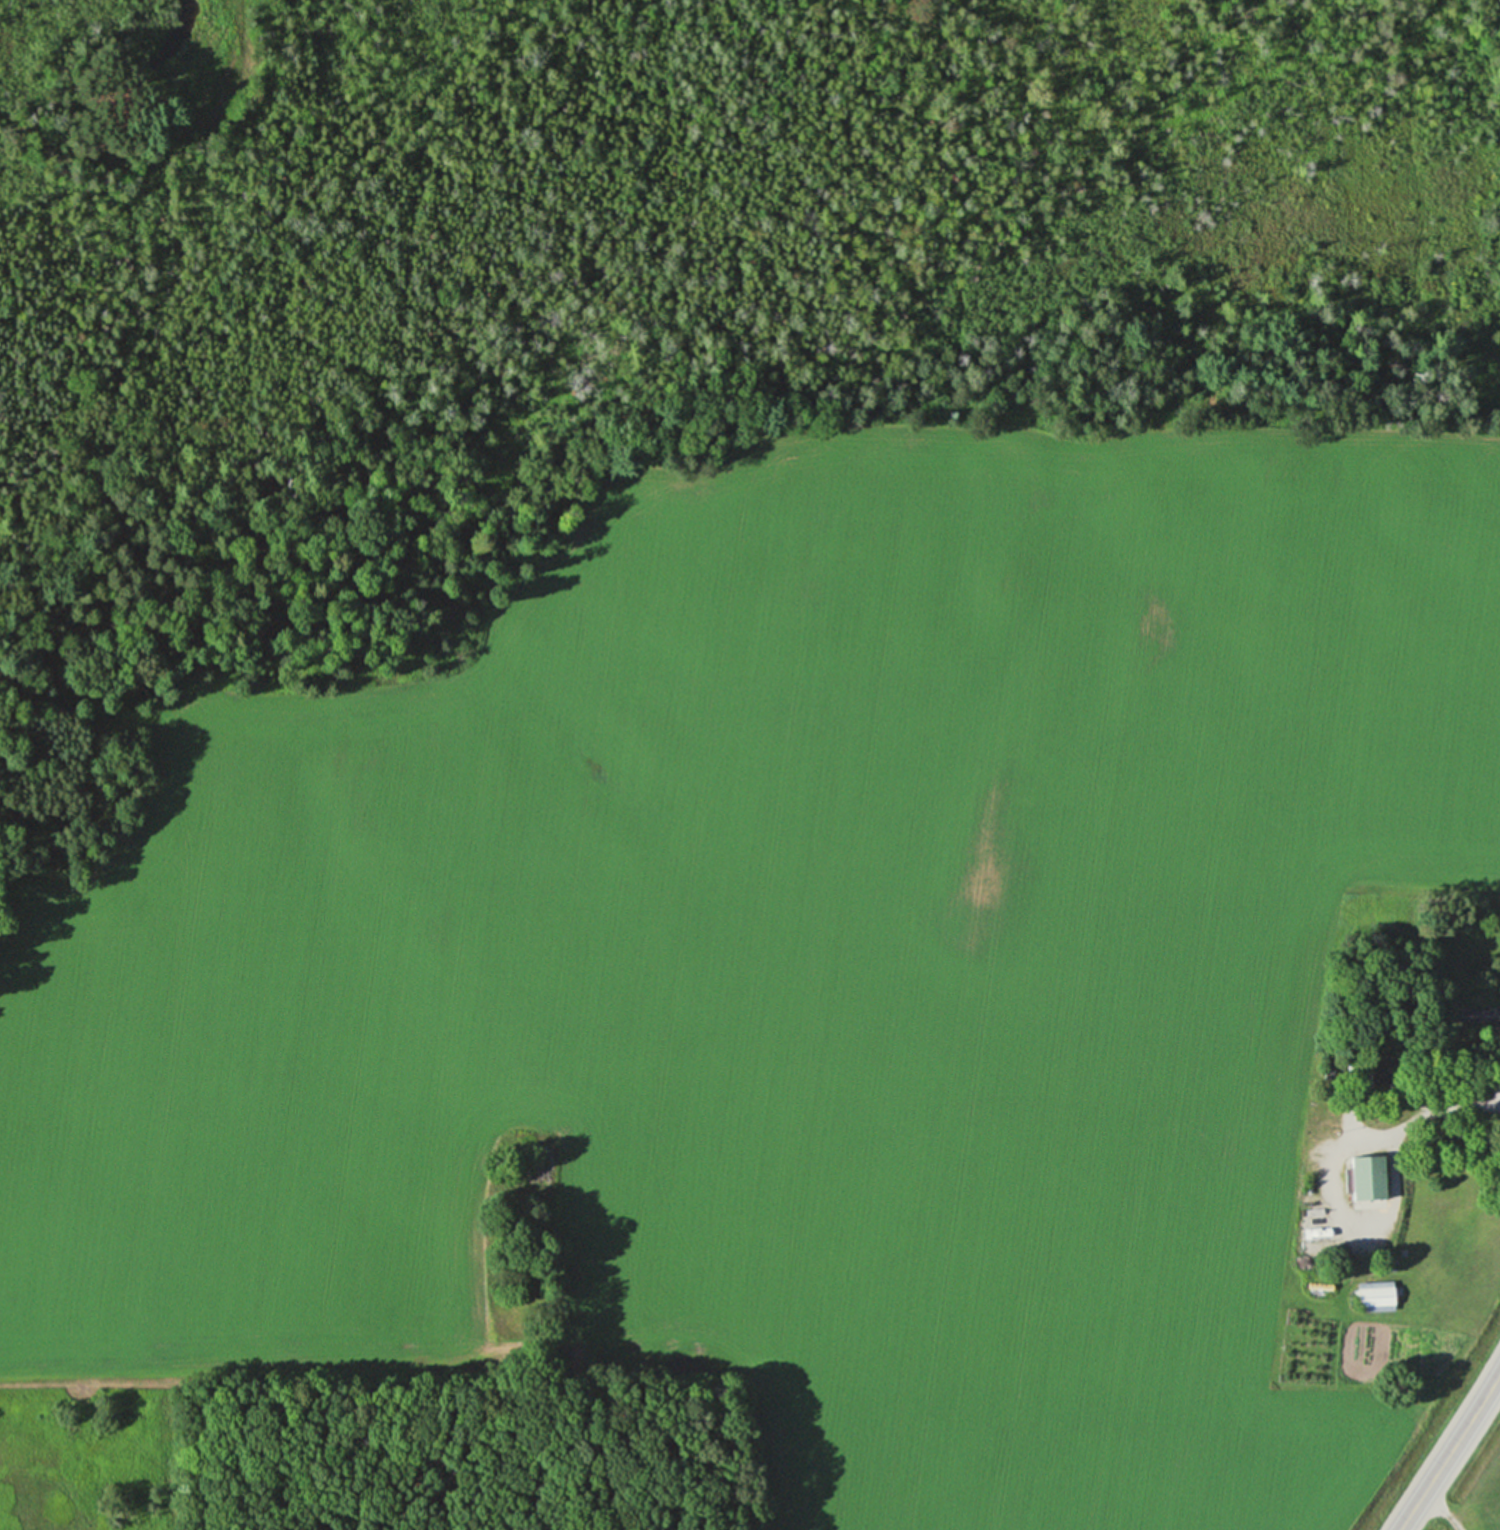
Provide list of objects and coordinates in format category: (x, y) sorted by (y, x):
building: (1473, 1016)
road: (1442, 1110)
building: (1368, 1178)
building: (1377, 1299)
road: (1450, 1449)

